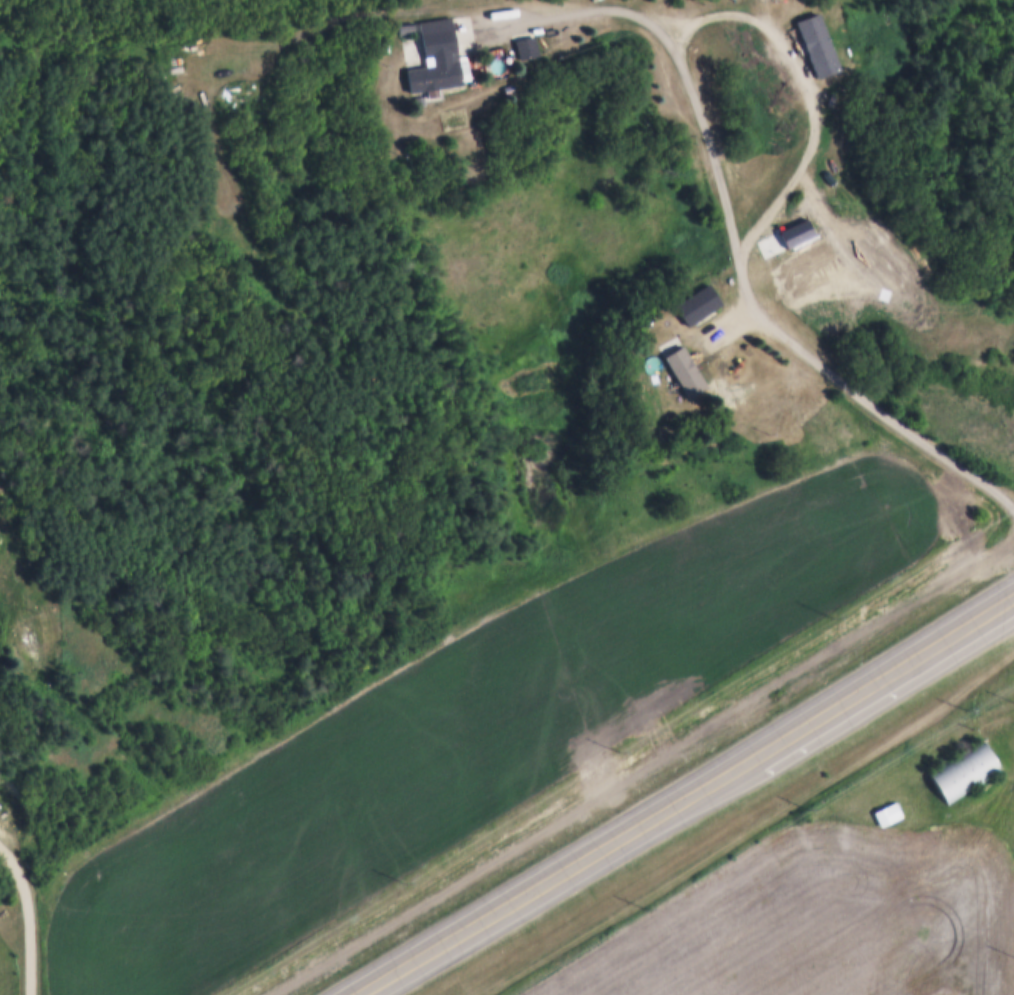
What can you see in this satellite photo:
building: (404, 27)
building: (815, 43)
building: (524, 45)
building: (434, 56)
building: (505, 87)
building: (834, 156)
road: (733, 232)
building: (792, 234)
building: (691, 301)
building: (680, 369)
road: (2, 569)
road: (881, 672)
building: (965, 769)
building: (887, 812)
road: (553, 874)
road: (31, 912)

